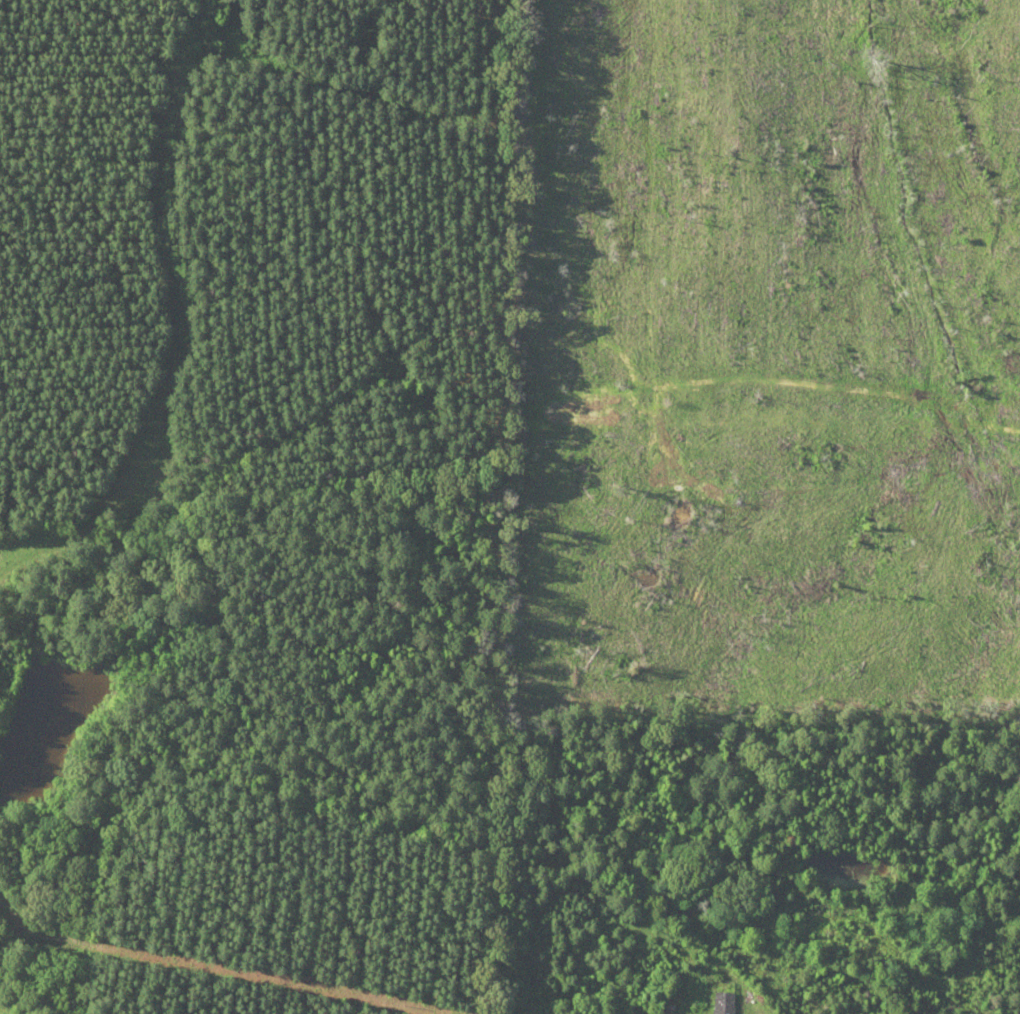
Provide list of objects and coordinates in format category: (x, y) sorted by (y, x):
building: (719, 1003)

